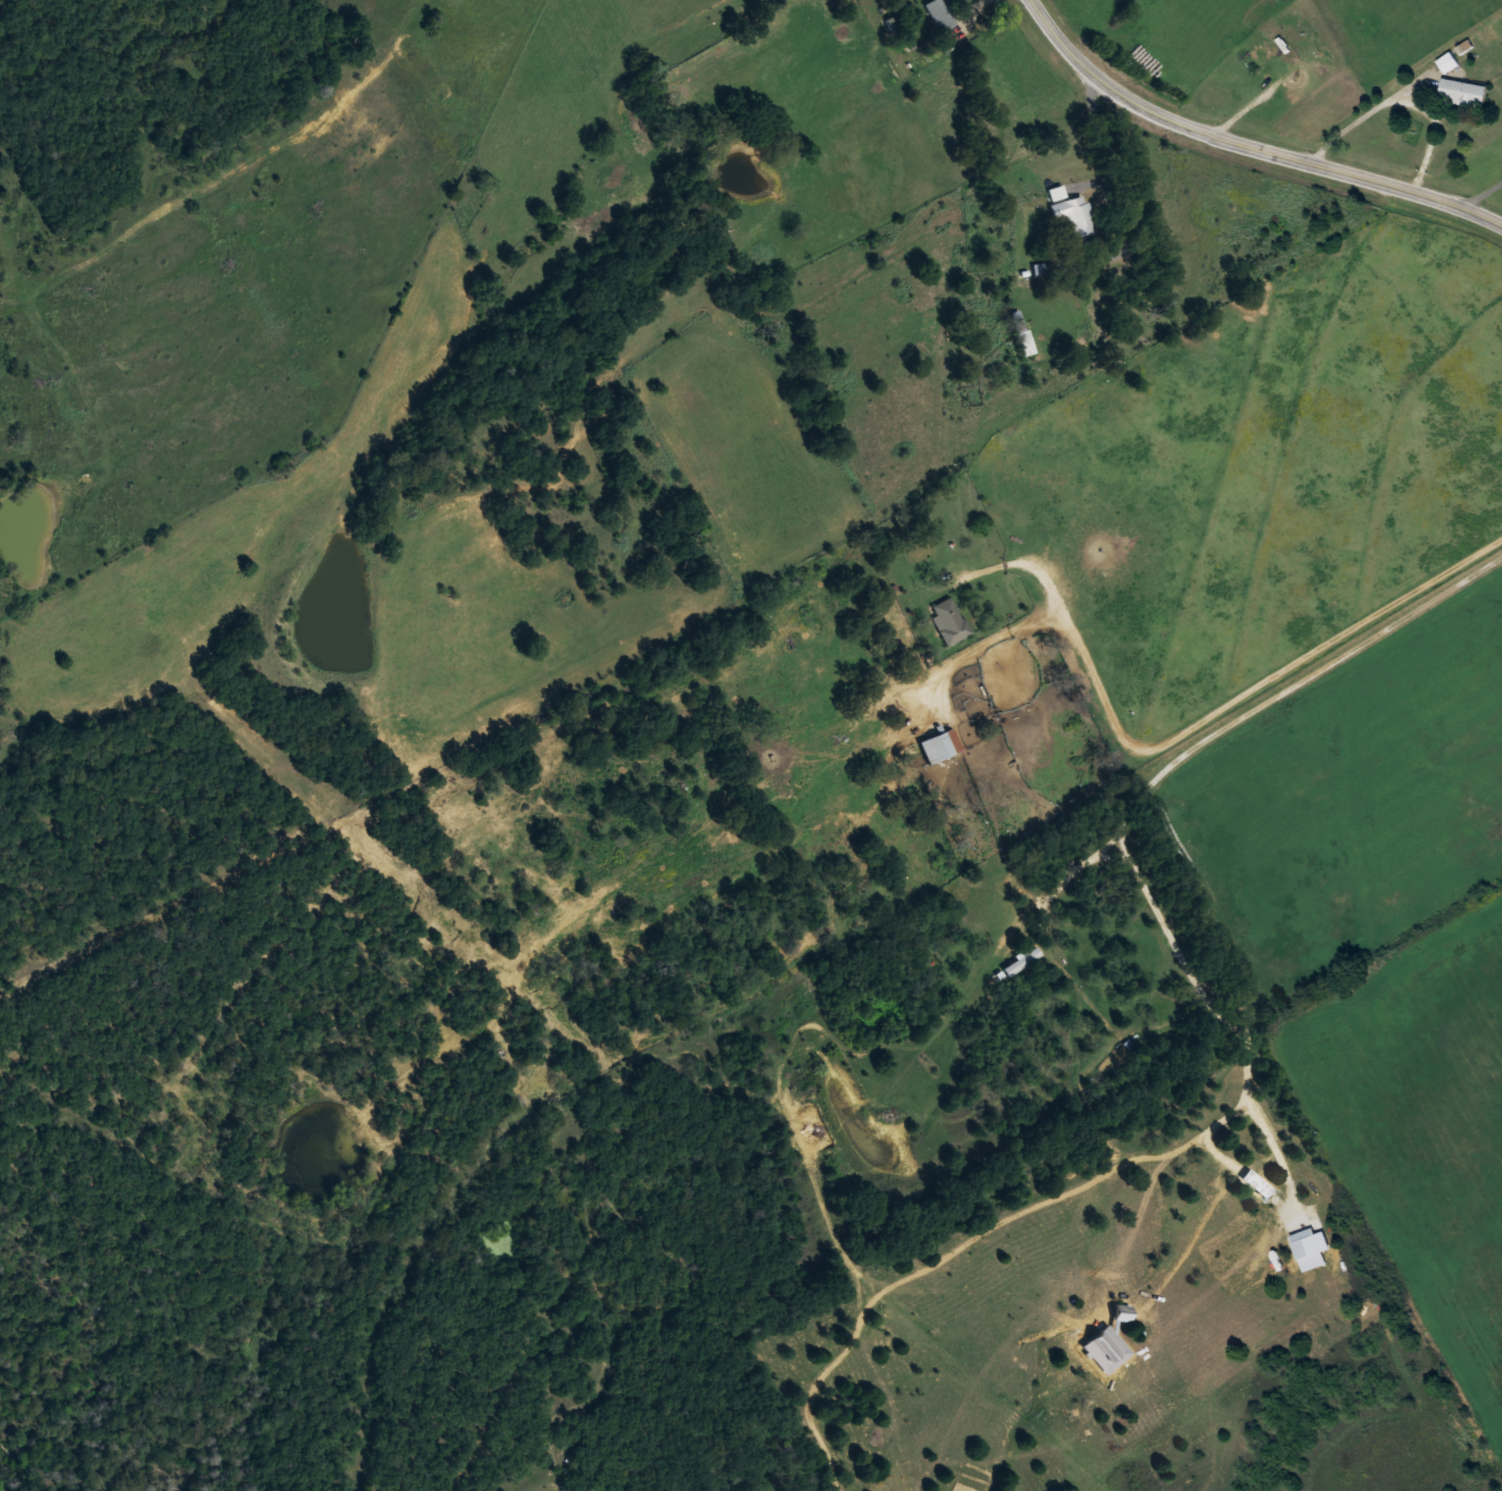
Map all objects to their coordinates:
building: (940, 13)
building: (1286, 42)
building: (1449, 61)
building: (1464, 91)
road: (1402, 105)
road: (1243, 147)
building: (1056, 192)
road: (1483, 197)
building: (1073, 210)
building: (948, 619)
building: (939, 744)
building: (1021, 960)
road: (1212, 999)
road: (1247, 1076)
building: (1263, 1183)

